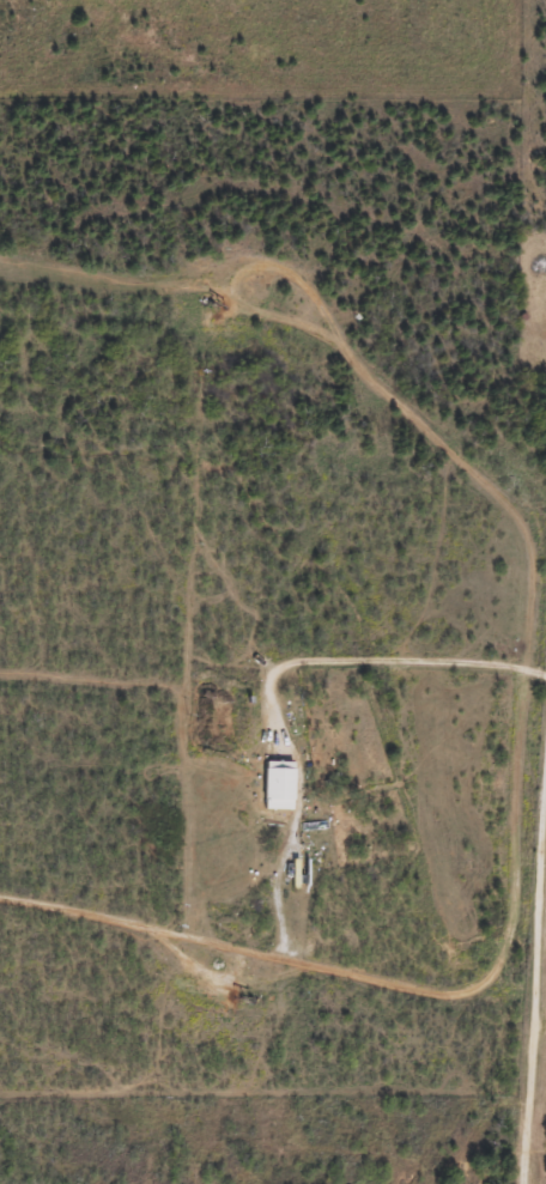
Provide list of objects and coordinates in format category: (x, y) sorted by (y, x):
road: (484, 833)
road: (510, 1064)

